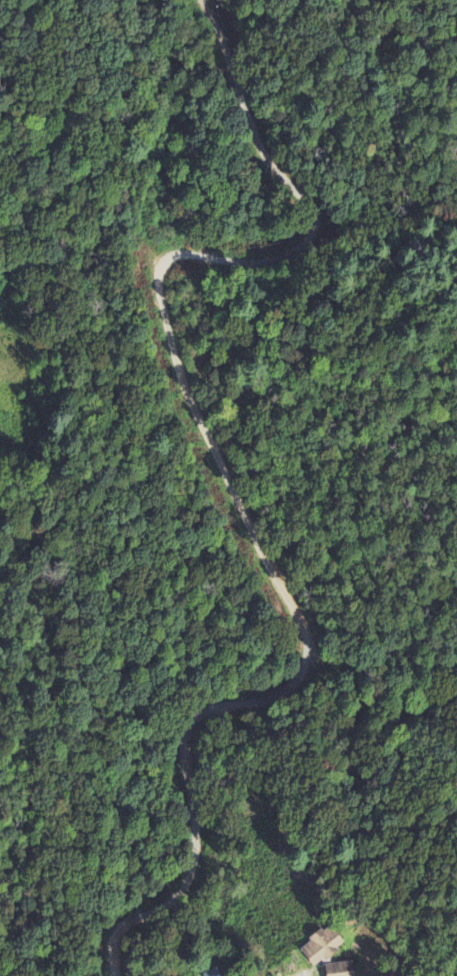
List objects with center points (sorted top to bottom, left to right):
road: (224, 470)
road: (382, 662)
building: (321, 947)
building: (211, 973)

